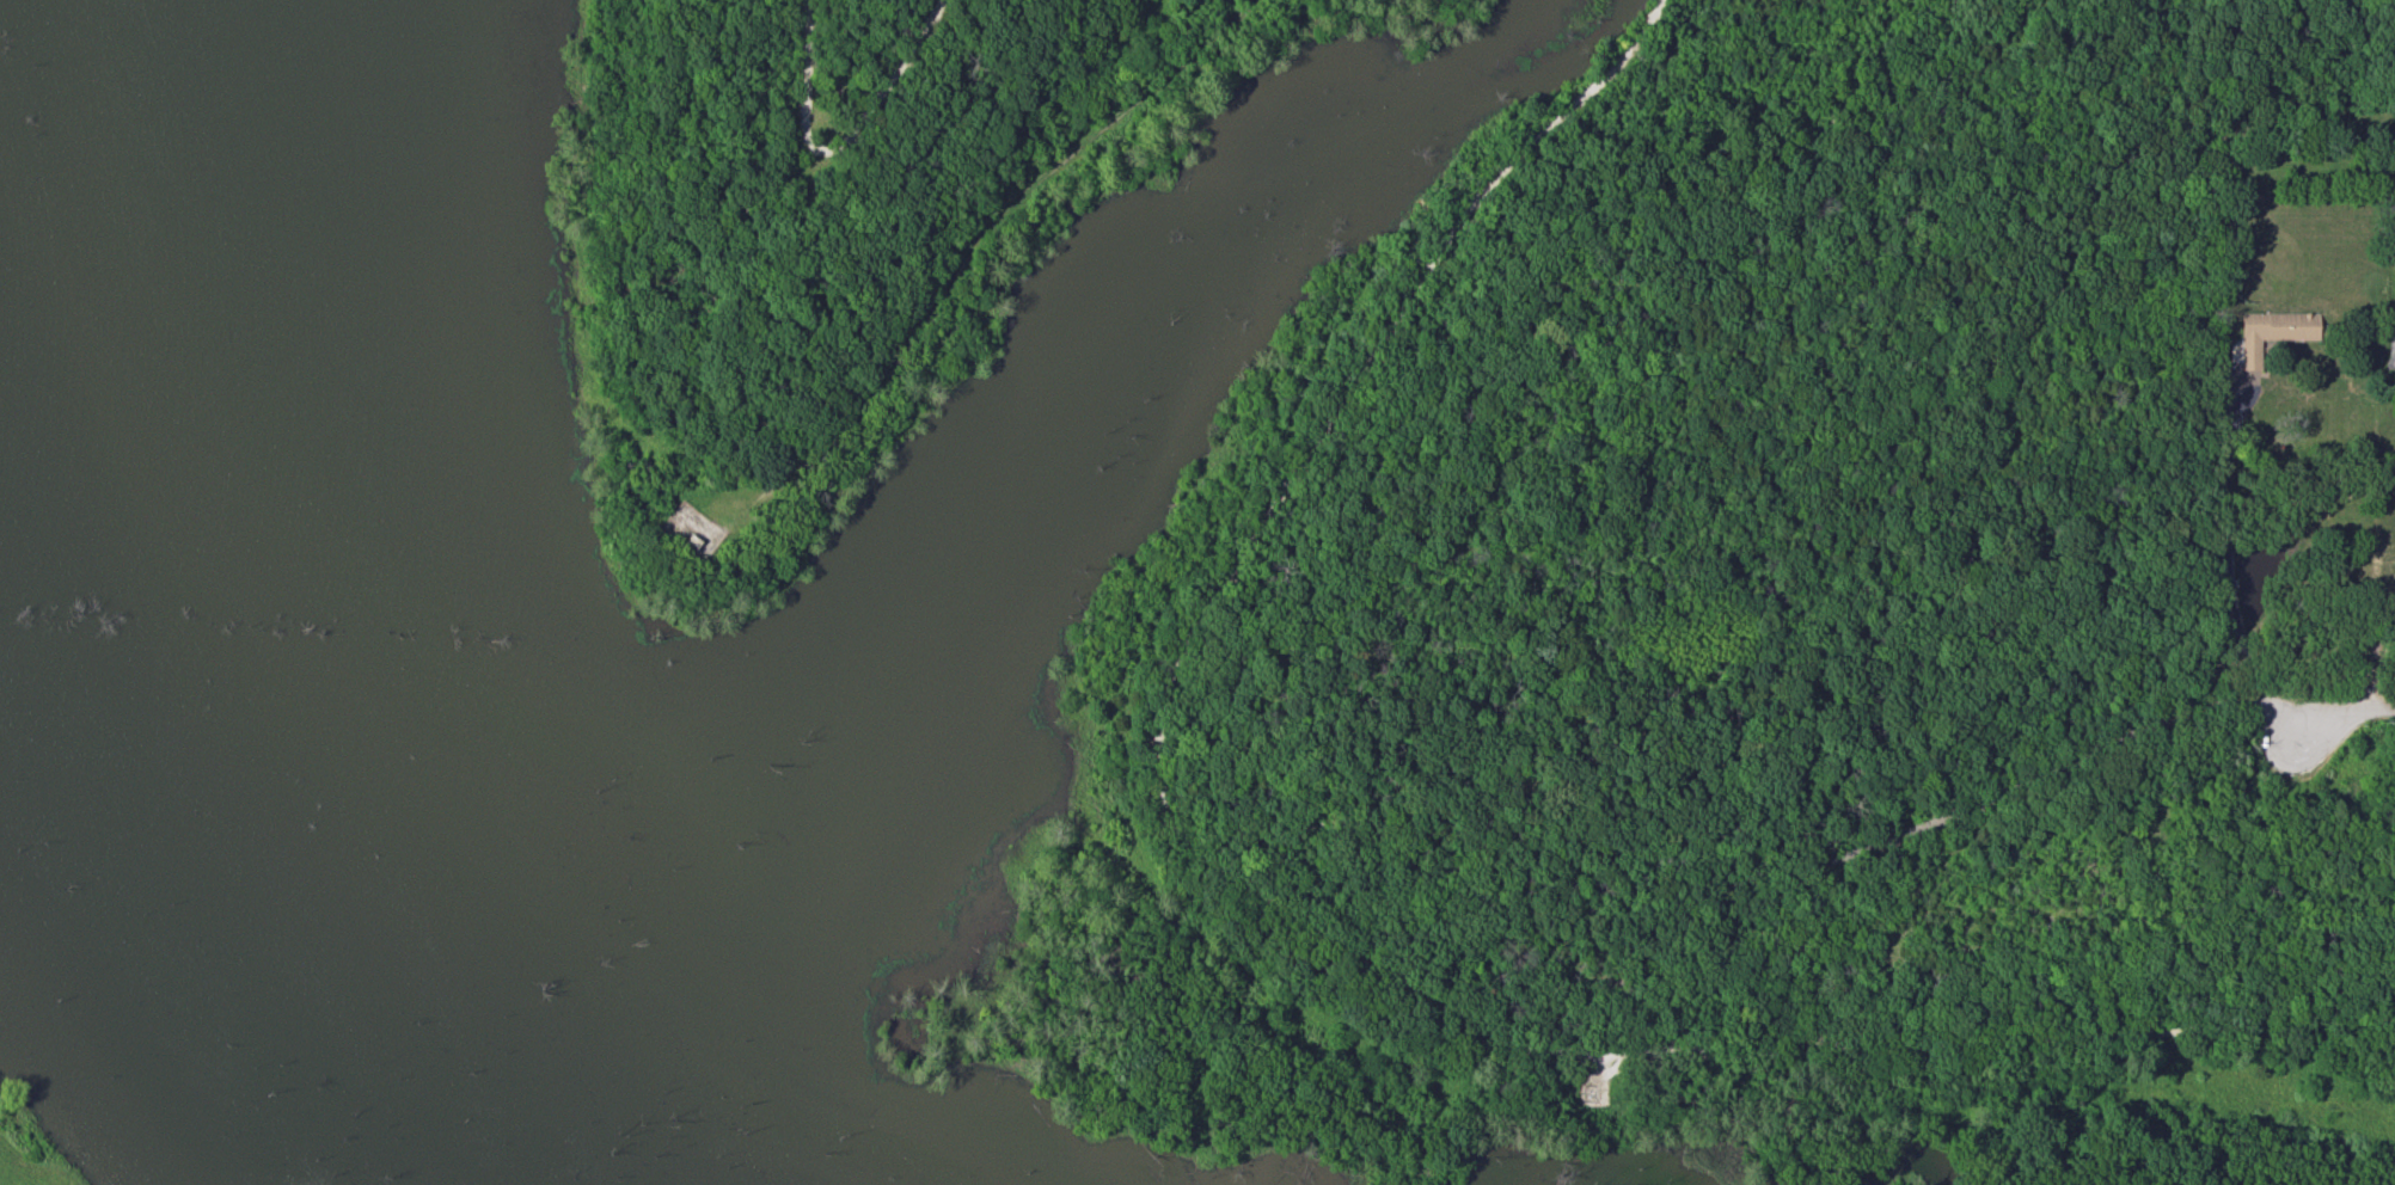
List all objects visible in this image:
road: (838, 146)
road: (967, 256)
building: (2272, 332)
building: (691, 533)
road: (2226, 573)
park: (1097, 592)
road: (2376, 655)
road: (2340, 711)
road: (1947, 815)
road: (1293, 917)

